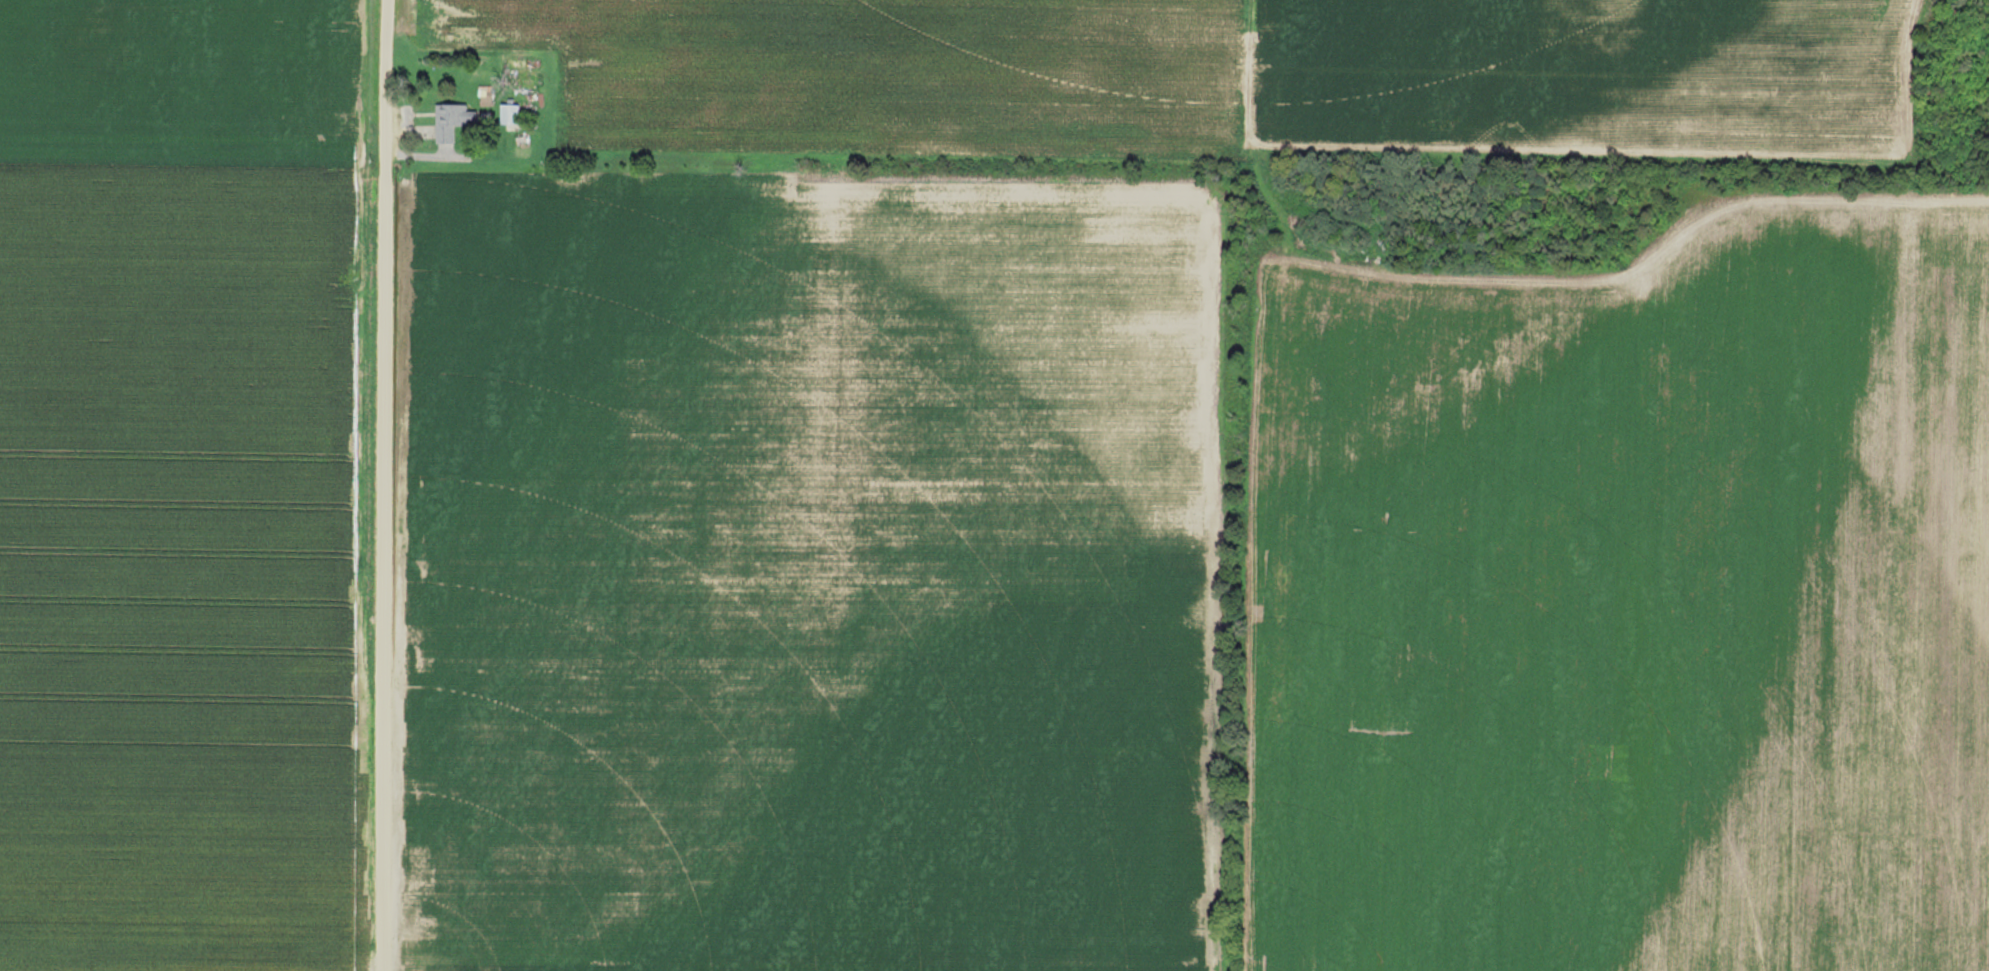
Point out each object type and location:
building: (518, 71)
building: (485, 94)
building: (454, 113)
building: (510, 113)
road: (410, 131)
road: (1253, 131)
building: (445, 132)
road: (429, 155)
road: (1650, 158)
road: (1638, 265)
road: (1268, 272)
road: (384, 485)

